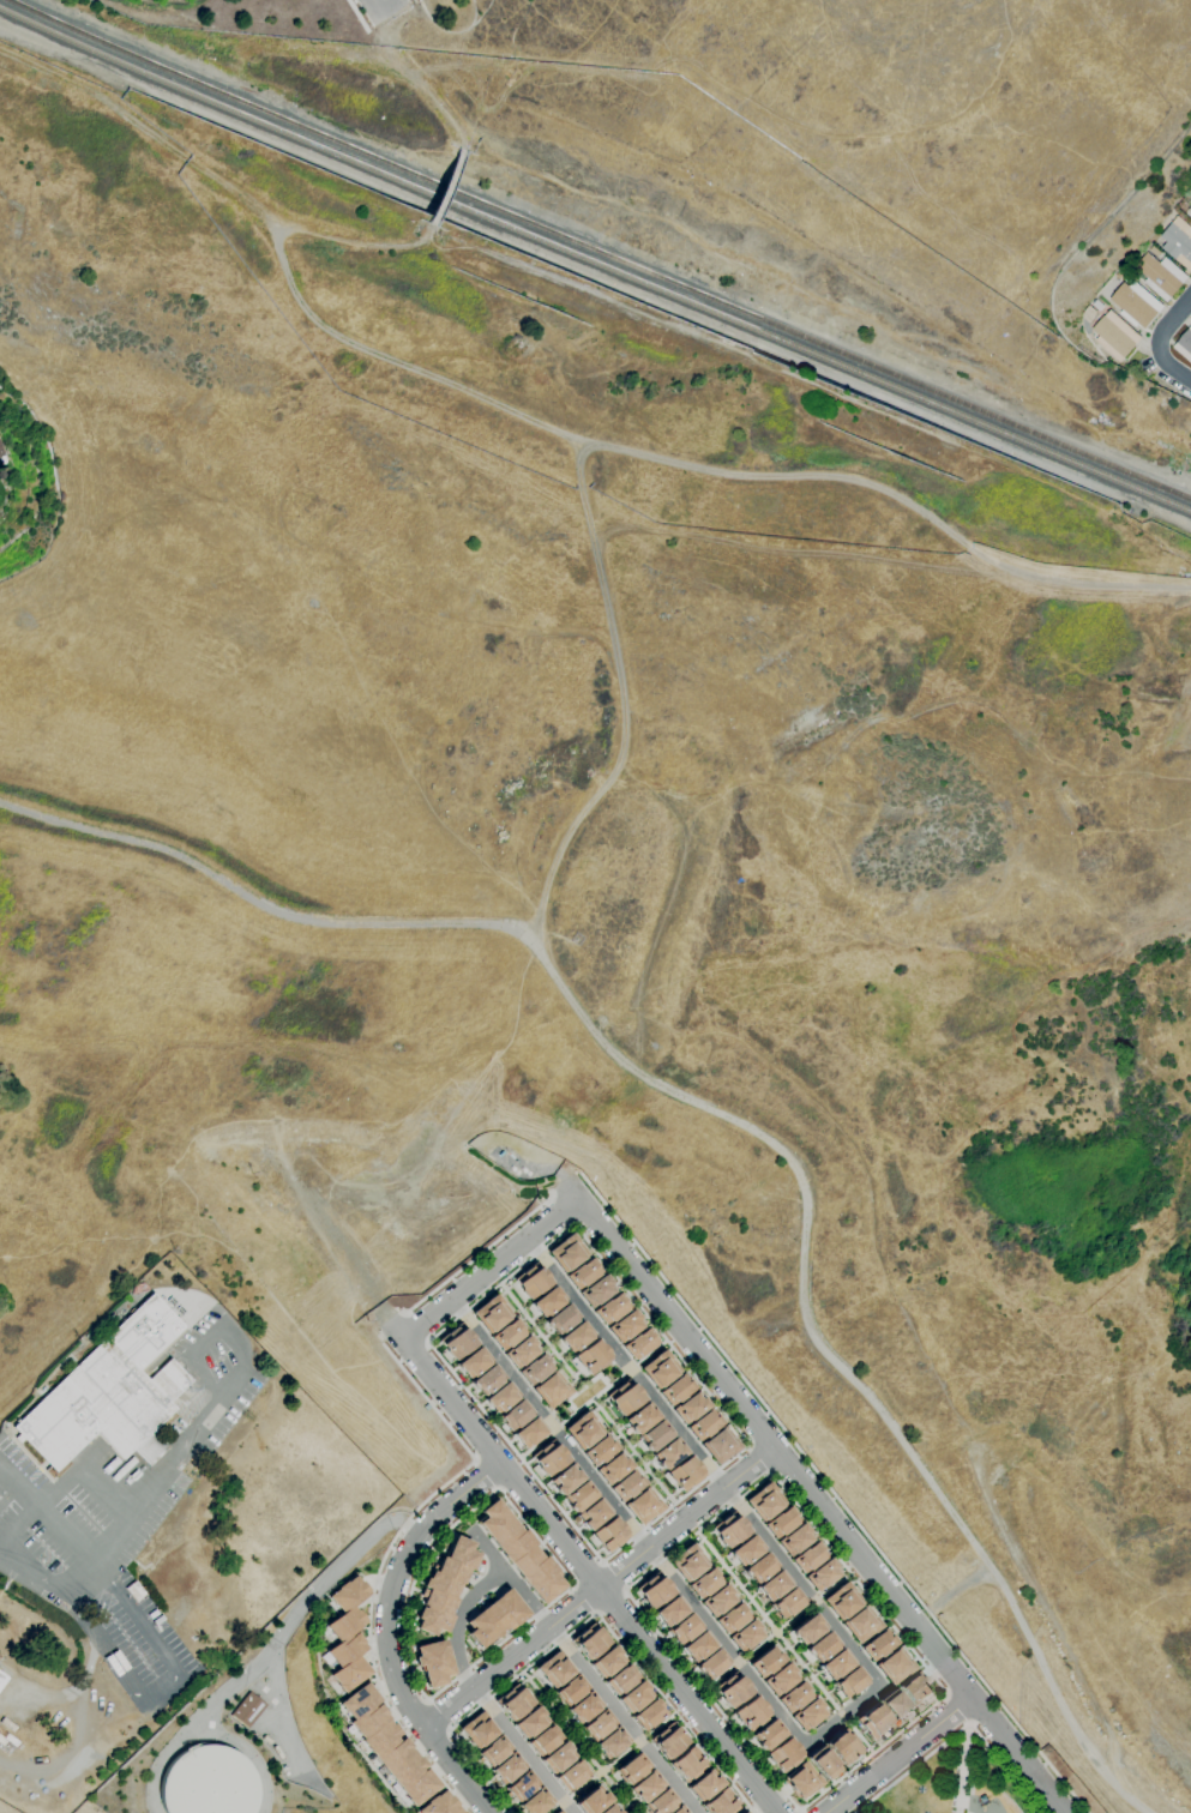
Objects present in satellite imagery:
building: (360, 1)
road: (401, 1)
road: (374, 7)
road: (390, 7)
road: (356, 14)
park: (251, 17)
park: (890, 62)
building: (1190, 209)
building: (1178, 241)
building: (1154, 251)
railway: (597, 252)
railway: (594, 261)
building: (1161, 276)
building: (1136, 302)
building: (1117, 335)
road: (1159, 341)
building: (1185, 344)
building: (2, 456)
road: (564, 1181)
building: (566, 1252)
road: (476, 1254)
road: (488, 1270)
building: (581, 1273)
building: (530, 1278)
building: (595, 1290)
building: (546, 1300)
building: (608, 1307)
building: (491, 1312)
building: (560, 1317)
building: (622, 1325)
road: (414, 1327)
road: (389, 1329)
building: (505, 1332)
building: (573, 1335)
road: (540, 1336)
building: (456, 1338)
building: (636, 1343)
building: (519, 1350)
building: (590, 1356)
building: (470, 1360)
road: (625, 1365)
building: (534, 1367)
building: (658, 1367)
road: (628, 1371)
building: (483, 1378)
road: (581, 1387)
building: (673, 1387)
building: (548, 1389)
park: (585, 1393)
building: (110, 1395)
building: (498, 1396)
building: (622, 1397)
road: (427, 1402)
road: (218, 1404)
building: (686, 1407)
building: (512, 1414)
building: (638, 1416)
road: (548, 1423)
building: (700, 1423)
building: (581, 1429)
building: (527, 1430)
road: (616, 1432)
building: (651, 1434)
building: (718, 1444)
building: (597, 1450)
building: (666, 1451)
building: (547, 1456)
road: (757, 1460)
road: (787, 1462)
building: (610, 1468)
building: (682, 1472)
road: (481, 1476)
building: (564, 1476)
road: (68, 1480)
building: (625, 1486)
road: (834, 1492)
building: (577, 1494)
building: (764, 1501)
building: (642, 1505)
road: (819, 1508)
building: (590, 1511)
road: (517, 1513)
road: (48, 1517)
parking lot: (122, 1520)
building: (781, 1522)
building: (608, 1531)
road: (697, 1531)
building: (730, 1531)
building: (794, 1540)
building: (745, 1549)
building: (519, 1552)
building: (810, 1556)
road: (601, 1560)
road: (601, 1562)
building: (687, 1562)
building: (759, 1567)
road: (590, 1573)
building: (822, 1574)
road: (34, 1576)
road: (83, 1578)
building: (704, 1583)
building: (774, 1585)
building: (444, 1586)
road: (596, 1586)
building: (654, 1591)
road: (582, 1598)
building: (718, 1601)
building: (843, 1601)
building: (787, 1602)
road: (610, 1606)
building: (669, 1612)
road: (295, 1615)
building: (495, 1618)
building: (732, 1619)
road: (458, 1621)
building: (861, 1624)
road: (579, 1625)
building: (684, 1628)
building: (808, 1628)
road: (389, 1631)
road: (776, 1631)
road: (369, 1632)
building: (348, 1634)
building: (746, 1636)
building: (590, 1642)
road: (783, 1642)
building: (878, 1645)
building: (697, 1646)
building: (822, 1646)
building: (607, 1661)
building: (768, 1661)
building: (433, 1663)
building: (711, 1663)
building: (836, 1663)
building: (894, 1664)
building: (555, 1668)
road: (582, 1673)
building: (2, 1679)
building: (620, 1679)
building: (782, 1679)
building: (850, 1680)
road: (961, 1682)
road: (169, 1688)
building: (913, 1688)
building: (571, 1689)
building: (732, 1689)
road: (66, 1693)
building: (634, 1695)
building: (795, 1695)
road: (405, 1701)
building: (513, 1703)
building: (584, 1706)
building: (895, 1706)
road: (957, 1707)
road: (981, 1709)
building: (248, 1710)
road: (277, 1712)
building: (648, 1713)
building: (750, 1713)
building: (810, 1713)
road: (438, 1715)
road: (842, 1715)
building: (873, 1719)
building: (530, 1722)
building: (7, 1723)
building: (598, 1724)
building: (477, 1730)
road: (956, 1730)
building: (766, 1734)
building: (545, 1739)
building: (7, 1740)
building: (613, 1741)
road: (434, 1742)
road: (576, 1742)
building: (668, 1742)
building: (389, 1745)
building: (841, 1748)
road: (522, 1751)
building: (494, 1752)
road: (872, 1752)
road: (897, 1753)
building: (783, 1754)
building: (558, 1757)
road: (612, 1763)
building: (687, 1764)
building: (822, 1764)
road: (962, 1767)
building: (507, 1769)
building: (633, 1769)
building: (572, 1775)
building: (207, 1782)
building: (798, 1782)
park: (954, 1782)
building: (704, 1784)
building: (522, 1787)
building: (646, 1787)
building: (593, 1800)
building: (535, 1801)
building: (662, 1802)
building: (720, 1803)
building: (440, 1805)
building: (608, 1809)
building: (678, 1809)
road: (795, 1811)
road: (799, 1811)
building: (462, 1812)
building: (558, 1812)
building: (619, 1812)
building: (741, 1812)

